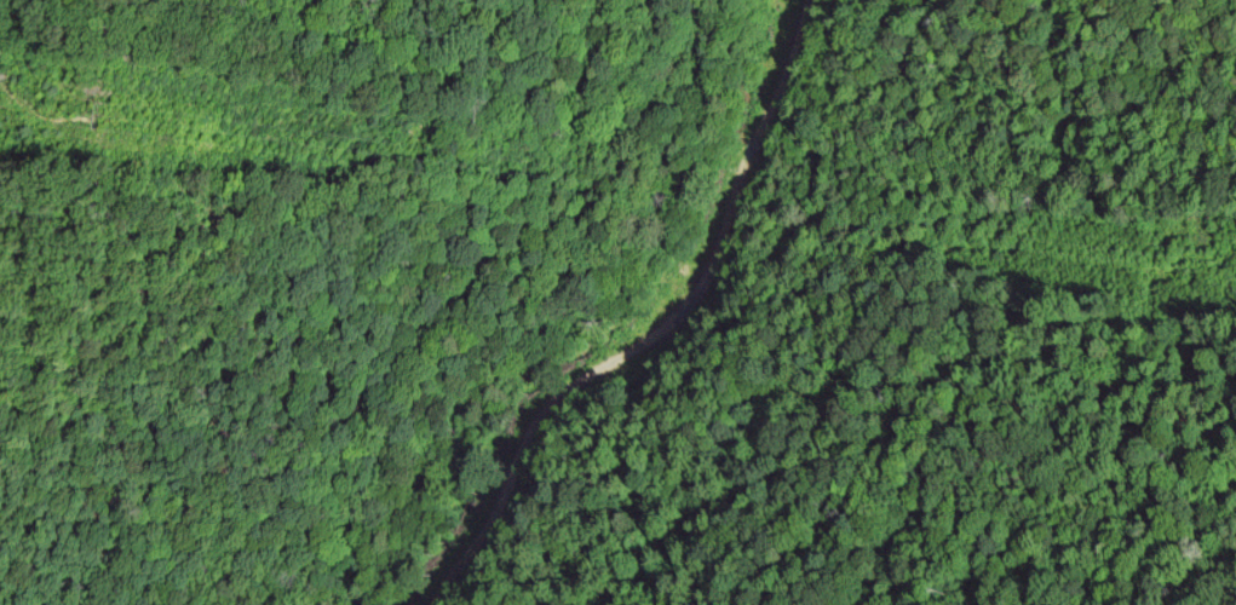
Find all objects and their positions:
road: (643, 323)

